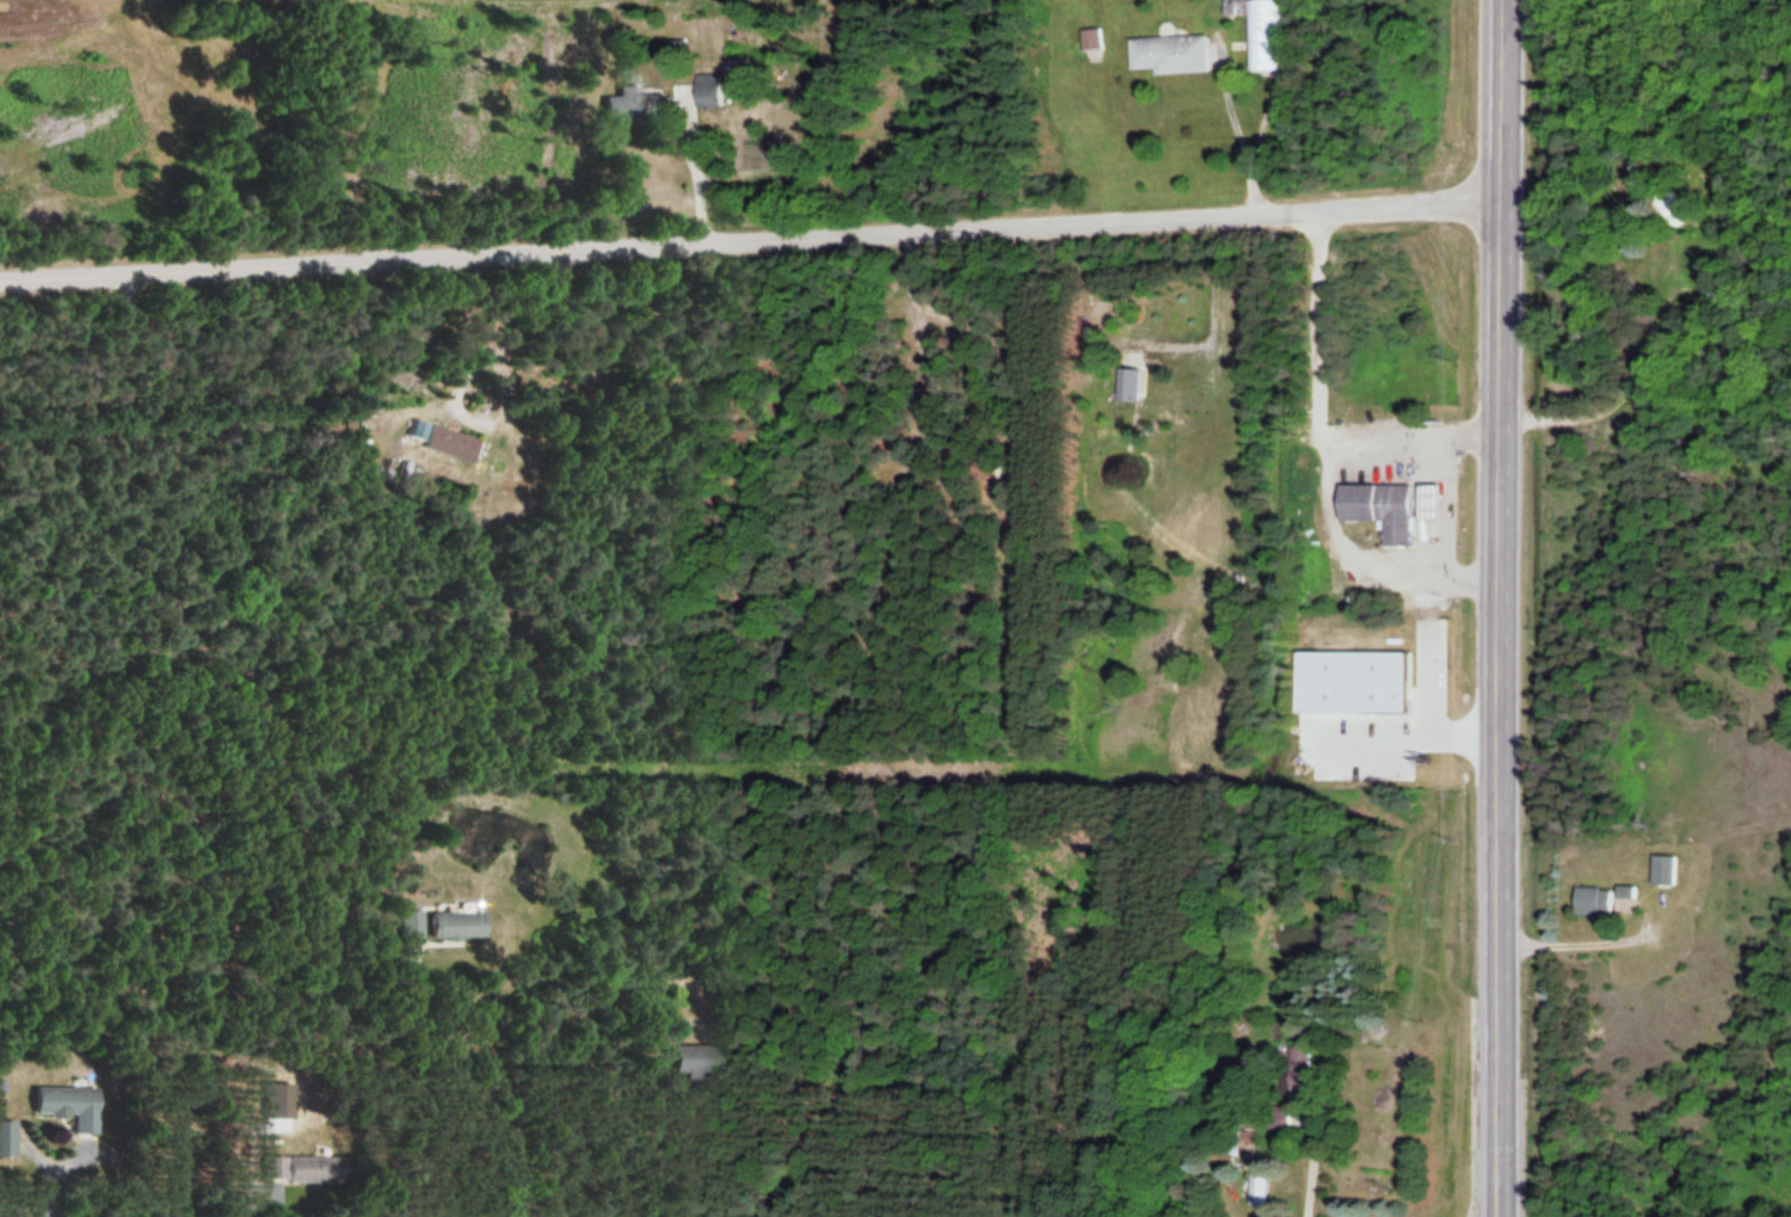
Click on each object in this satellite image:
building: (1258, 31)
building: (1090, 41)
building: (1168, 55)
building: (621, 107)
road: (753, 239)
building: (1159, 386)
building: (445, 443)
building: (1430, 500)
building: (1381, 506)
road: (1503, 608)
building: (1625, 895)
building: (1593, 902)
building: (455, 924)
building: (412, 927)
building: (691, 1059)
building: (67, 1107)
building: (6, 1139)
building: (1247, 1144)
building: (300, 1169)
building: (1258, 1190)

